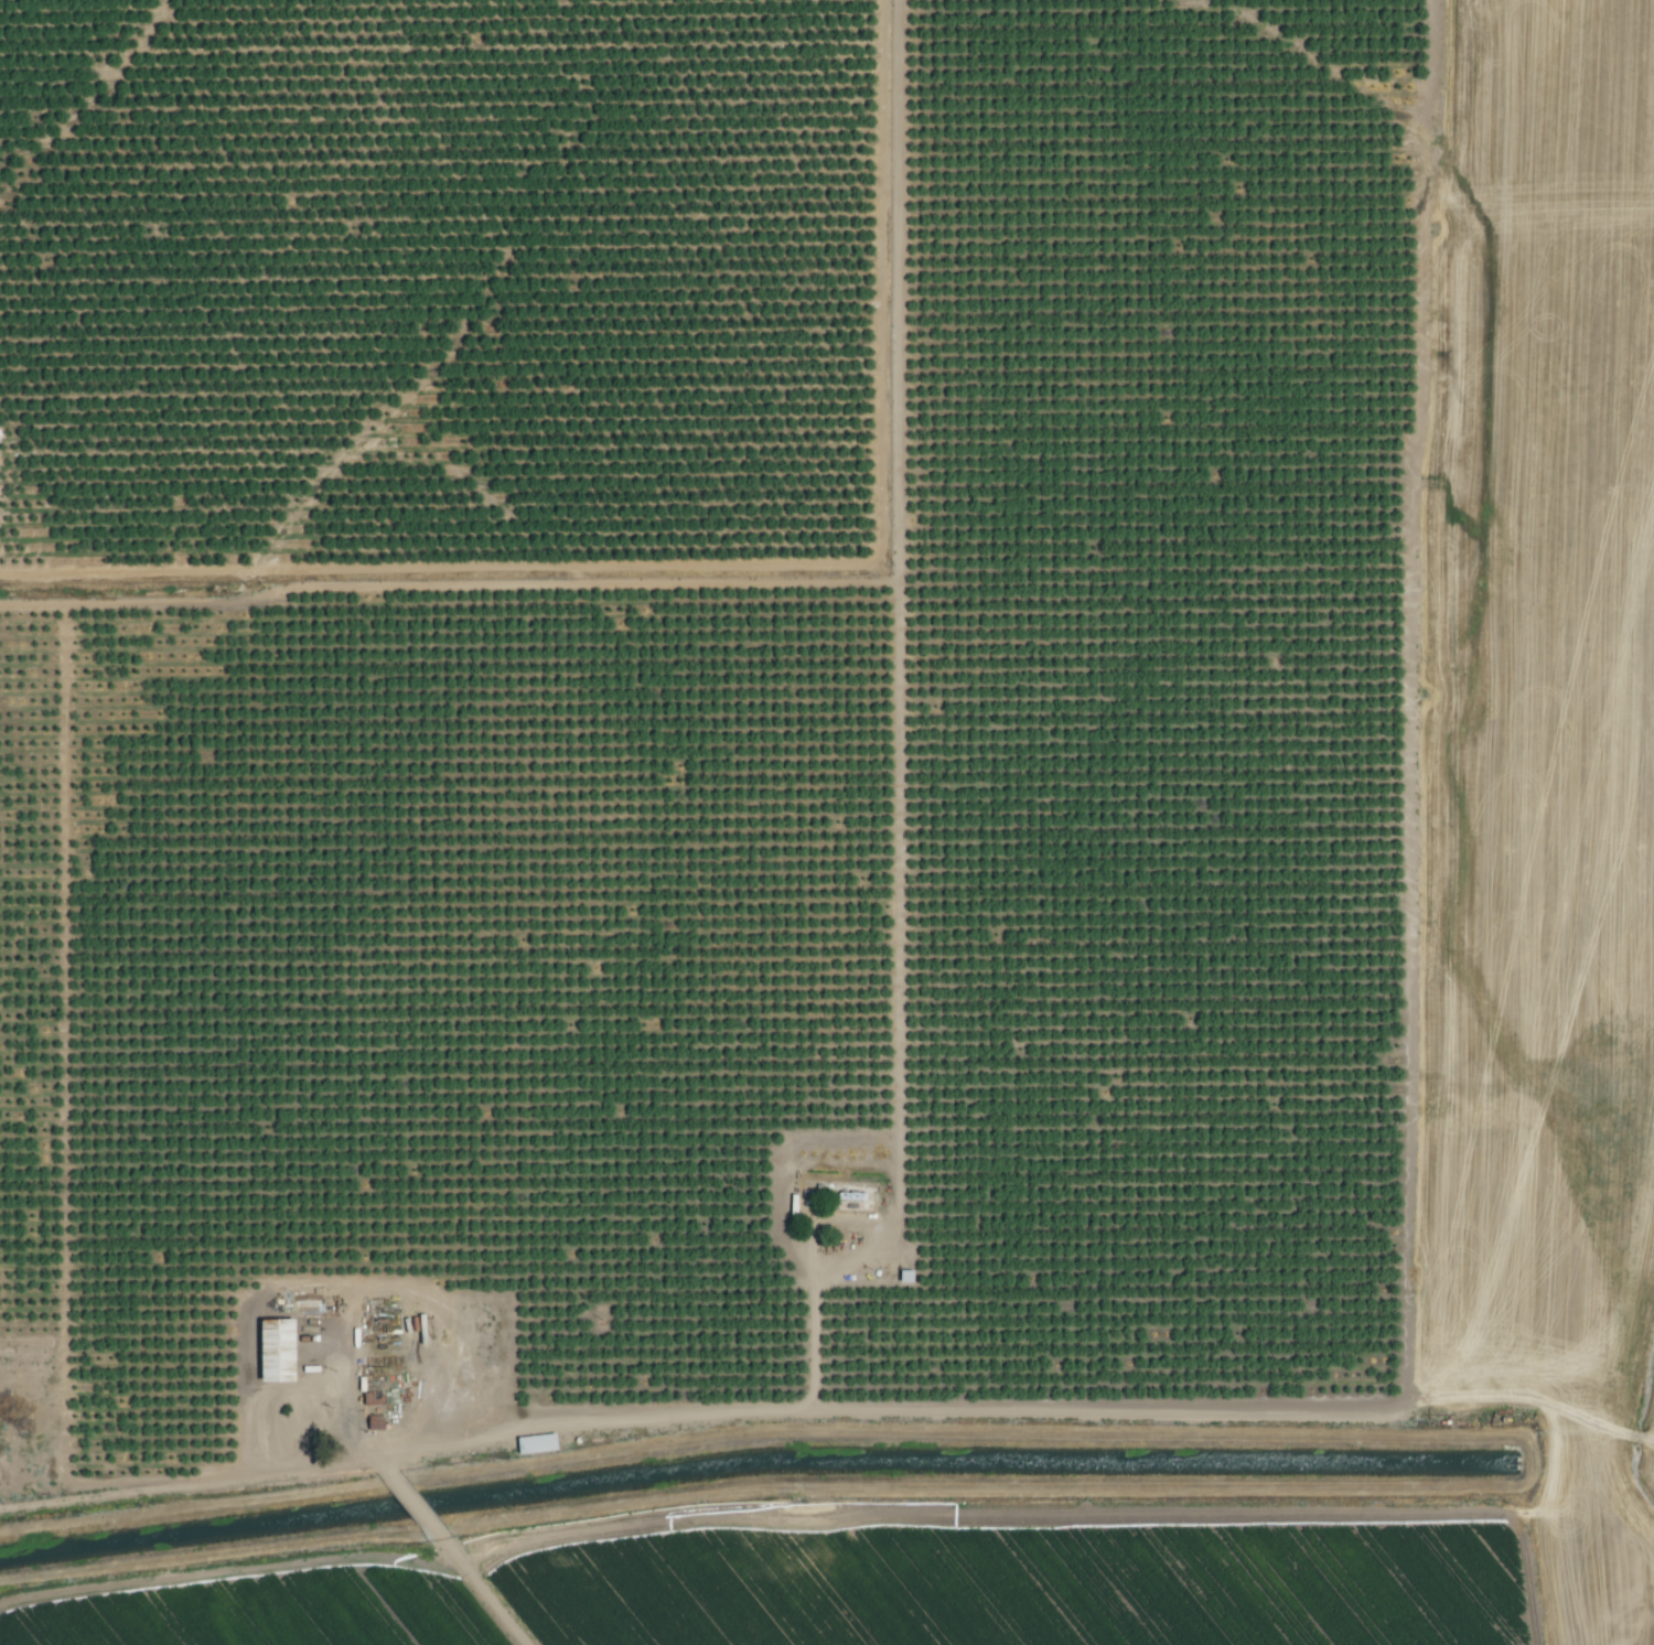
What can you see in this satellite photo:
building: (257, 1344)
building: (375, 1400)
building: (376, 1423)
road: (393, 1474)
road: (419, 1508)
road: (480, 1587)

